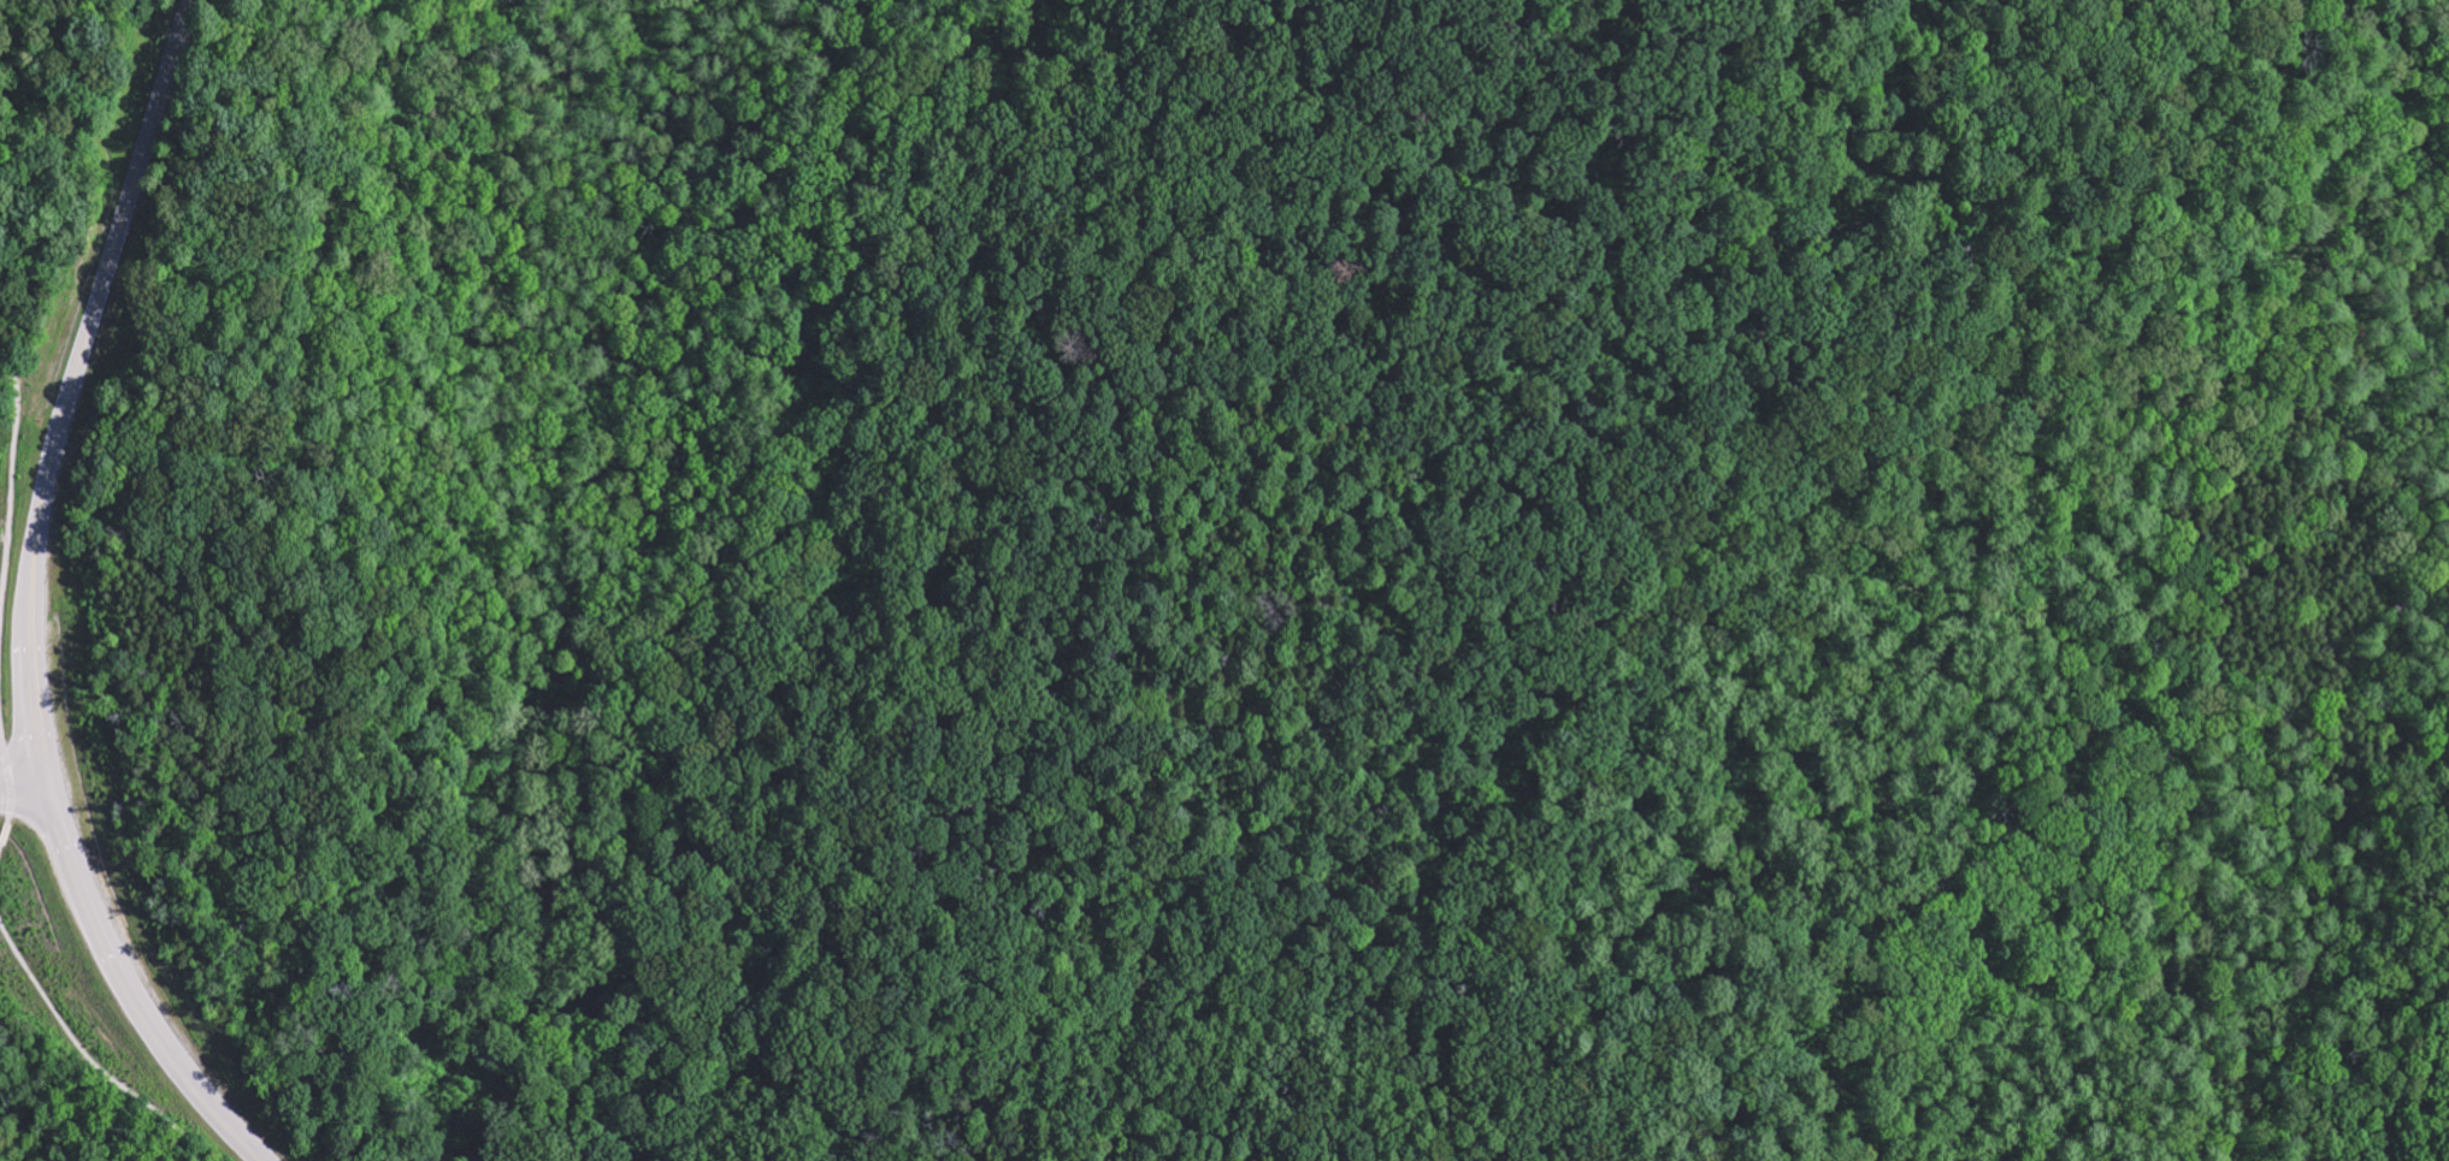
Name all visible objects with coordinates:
road: (71, 386)
road: (12, 480)
road: (22, 781)
road: (6, 786)
road: (131, 982)
road: (85, 1054)
road: (118, 1151)
road: (88, 1157)

